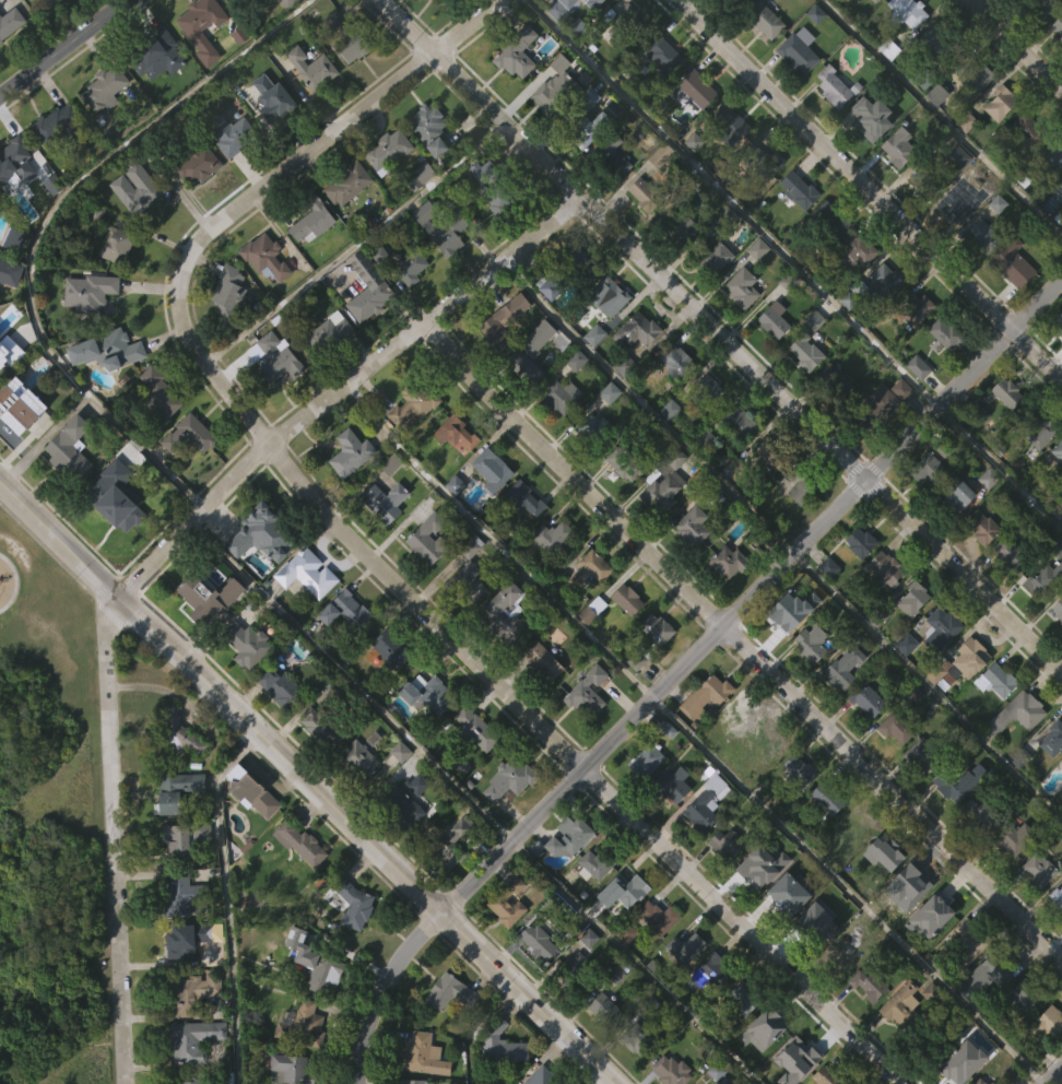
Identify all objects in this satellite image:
building: (842, 1)
building: (290, 3)
building: (590, 3)
building: (699, 4)
building: (1042, 7)
building: (555, 8)
building: (40, 12)
building: (905, 13)
building: (1006, 13)
building: (438, 15)
building: (246, 16)
building: (762, 16)
building: (735, 20)
building: (874, 21)
building: (12, 23)
building: (625, 23)
building: (1057, 24)
building: (202, 26)
building: (282, 34)
building: (578, 36)
building: (344, 37)
building: (1040, 38)
building: (933, 39)
road: (1016, 45)
road: (63, 46)
building: (516, 48)
building: (799, 48)
building: (907, 48)
building: (156, 52)
building: (660, 54)
building: (762, 60)
building: (332, 62)
building: (10, 63)
building: (201, 67)
building: (311, 68)
building: (1057, 68)
building: (931, 75)
building: (970, 78)
building: (835, 84)
building: (554, 86)
building: (104, 87)
building: (697, 87)
building: (351, 90)
building: (796, 92)
building: (515, 94)
building: (156, 97)
building: (273, 97)
building: (662, 97)
building: (998, 102)
building: (309, 109)
road: (942, 117)
building: (868, 118)
building: (973, 118)
road: (345, 122)
building: (728, 123)
building: (103, 128)
building: (552, 128)
building: (830, 128)
building: (430, 129)
building: (580, 129)
building: (694, 130)
building: (1029, 130)
building: (69, 131)
building: (233, 133)
building: (271, 140)
building: (896, 144)
building: (998, 145)
building: (386, 150)
building: (1052, 156)
building: (872, 157)
building: (605, 158)
building: (760, 158)
building: (200, 163)
building: (23, 165)
building: (728, 165)
building: (49, 166)
building: (1024, 169)
building: (587, 170)
building: (229, 175)
building: (422, 175)
building: (924, 179)
building: (691, 180)
building: (349, 182)
building: (144, 187)
road: (858, 188)
building: (496, 189)
building: (796, 189)
building: (386, 191)
building: (641, 193)
building: (767, 196)
building: (611, 197)
building: (658, 197)
building: (1052, 200)
road: (734, 202)
building: (13, 203)
building: (954, 204)
building: (196, 207)
building: (422, 213)
building: (311, 222)
building: (827, 222)
building: (675, 223)
road: (43, 225)
building: (51, 225)
building: (345, 225)
building: (488, 228)
building: (141, 229)
building: (795, 231)
building: (456, 234)
building: (642, 234)
building: (984, 235)
building: (1060, 240)
building: (118, 244)
road: (358, 245)
building: (855, 248)
building: (951, 248)
building: (269, 257)
building: (711, 258)
building: (827, 259)
building: (309, 262)
building: (1011, 266)
building: (413, 267)
building: (435, 269)
building: (9, 273)
building: (565, 275)
building: (979, 275)
building: (872, 285)
building: (113, 286)
building: (740, 287)
building: (368, 288)
building: (755, 290)
building: (88, 293)
building: (605, 295)
building: (229, 297)
building: (263, 298)
building: (713, 299)
building: (911, 307)
building: (1011, 307)
building: (409, 309)
building: (9, 314)
building: (501, 319)
building: (886, 320)
building: (1061, 321)
building: (771, 322)
building: (546, 327)
building: (328, 328)
building: (634, 329)
building: (740, 329)
building: (366, 331)
building: (604, 332)
building: (86, 333)
building: (944, 333)
road: (721, 335)
building: (226, 337)
building: (912, 346)
building: (119, 349)
building: (803, 350)
building: (275, 358)
building: (501, 360)
building: (673, 361)
building: (771, 362)
building: (521, 366)
building: (1059, 367)
building: (635, 370)
building: (942, 374)
building: (324, 375)
building: (592, 376)
building: (835, 386)
building: (106, 391)
building: (1004, 391)
building: (706, 392)
building: (162, 393)
building: (528, 393)
building: (804, 393)
building: (563, 397)
building: (273, 398)
building: (673, 401)
building: (415, 402)
building: (880, 403)
building: (22, 406)
road: (647, 406)
building: (835, 420)
building: (741, 422)
building: (706, 426)
building: (593, 427)
building: (1037, 427)
building: (190, 434)
building: (455, 434)
building: (1004, 434)
building: (158, 435)
building: (556, 439)
building: (883, 441)
building: (411, 445)
building: (17, 447)
building: (70, 448)
building: (1054, 451)
building: (351, 452)
building: (771, 452)
building: (735, 462)
building: (623, 463)
building: (493, 467)
building: (924, 468)
building: (589, 469)
road: (1000, 469)
building: (453, 474)
building: (1038, 474)
building: (188, 475)
building: (661, 482)
building: (798, 483)
building: (67, 490)
building: (1057, 492)
building: (349, 493)
building: (955, 494)
building: (766, 499)
building: (522, 500)
building: (386, 502)
building: (113, 506)
building: (924, 509)
building: (489, 510)
building: (452, 525)
building: (692, 527)
building: (795, 527)
building: (979, 527)
building: (660, 531)
building: (263, 533)
building: (554, 534)
building: (953, 535)
building: (426, 540)
building: (521, 540)
building: (382, 542)
building: (858, 542)
building: (113, 545)
road: (493, 546)
road: (160, 551)
building: (1010, 554)
building: (727, 561)
building: (689, 564)
building: (885, 566)
building: (978, 568)
building: (588, 573)
building: (312, 575)
building: (260, 576)
building: (551, 576)
road: (15, 579)
building: (1041, 579)
building: (425, 580)
building: (465, 581)
building: (858, 582)
building: (1007, 591)
building: (199, 597)
building: (627, 598)
building: (913, 598)
building: (725, 601)
building: (826, 608)
building: (346, 609)
building: (882, 609)
building: (1057, 609)
building: (587, 610)
building: (305, 613)
building: (467, 613)
building: (503, 613)
building: (782, 613)
building: (653, 628)
building: (939, 629)
building: (205, 638)
building: (625, 640)
building: (910, 640)
building: (247, 643)
road: (741, 643)
building: (810, 645)
building: (391, 649)
building: (1057, 649)
building: (344, 650)
building: (590, 650)
building: (782, 653)
building: (973, 653)
building: (501, 655)
building: (540, 662)
road: (683, 665)
building: (843, 668)
building: (653, 669)
building: (934, 669)
building: (994, 680)
road: (349, 683)
building: (279, 684)
building: (807, 684)
building: (246, 685)
building: (904, 685)
road: (501, 688)
road: (928, 688)
building: (389, 690)
building: (585, 692)
building: (428, 693)
building: (717, 696)
building: (966, 699)
building: (540, 700)
building: (864, 700)
building: (842, 708)
building: (1023, 709)
building: (932, 714)
building: (739, 715)
building: (993, 724)
building: (276, 726)
building: (894, 728)
building: (475, 729)
building: (185, 731)
building: (326, 731)
building: (586, 733)
building: (425, 734)
building: (911, 734)
building: (703, 737)
building: (1053, 739)
building: (865, 741)
building: (767, 742)
building: (1020, 751)
building: (920, 755)
building: (737, 756)
building: (357, 758)
building: (644, 761)
building: (1061, 762)
building: (318, 768)
building: (473, 768)
building: (799, 769)
building: (893, 769)
building: (509, 775)
building: (1050, 780)
road: (308, 781)
building: (767, 783)
building: (670, 785)
building: (948, 785)
building: (176, 790)
building: (251, 791)
building: (920, 796)
building: (824, 798)
building: (408, 800)
building: (356, 801)
building: (644, 801)
building: (701, 803)
building: (1060, 804)
building: (796, 810)
building: (978, 813)
building: (505, 822)
building: (672, 824)
park: (47, 826)
building: (852, 827)
building: (951, 828)
building: (250, 834)
building: (573, 835)
building: (1011, 837)
building: (178, 838)
building: (408, 838)
building: (824, 839)
building: (304, 843)
building: (704, 843)
building: (449, 844)
building: (723, 845)
building: (975, 850)
building: (884, 852)
building: (597, 861)
building: (851, 869)
building: (1037, 870)
building: (753, 871)
building: (566, 877)
building: (1012, 879)
building: (911, 881)
building: (298, 883)
building: (447, 883)
building: (724, 883)
building: (628, 886)
road: (845, 893)
building: (185, 894)
building: (783, 894)
building: (886, 896)
building: (1057, 896)
building: (508, 903)
building: (591, 904)
building: (353, 905)
building: (937, 908)
building: (1036, 910)
building: (753, 911)
building: (658, 916)
building: (909, 923)
building: (512, 926)
building: (809, 926)
building: (622, 931)
building: (786, 934)
building: (1057, 936)
building: (968, 939)
building: (188, 940)
building: (535, 940)
building: (686, 944)
building: (353, 945)
building: (504, 948)
building: (841, 951)
building: (929, 955)
building: (657, 958)
road: (633, 963)
building: (813, 963)
building: (319, 968)
building: (575, 968)
building: (708, 969)
building: (586, 978)
building: (984, 979)
building: (534, 981)
building: (868, 983)
building: (682, 988)
building: (191, 991)
building: (840, 991)
building: (448, 992)
building: (1023, 994)
building: (740, 998)
building: (900, 999)
building: (314, 1003)
building: (573, 1004)
building: (603, 1010)
building: (987, 1012)
building: (769, 1024)
building: (866, 1024)
building: (302, 1025)
building: (1042, 1027)
building: (447, 1033)
building: (636, 1037)
building: (1020, 1037)
building: (193, 1039)
building: (740, 1039)
building: (897, 1045)
building: (500, 1046)
building: (600, 1048)
building: (423, 1054)
building: (791, 1058)
building: (1047, 1063)
building: (292, 1068)
building: (951, 1068)
building: (762, 1069)
building: (669, 1070)
building: (493, 1074)
building: (638, 1075)
building: (825, 1075)
road: (1054, 1076)
building: (542, 1077)
building: (191, 1081)
building: (412, 1081)
building: (794, 1081)
building: (978, 1081)
building: (964, 1082)
building: (989, 1083)

